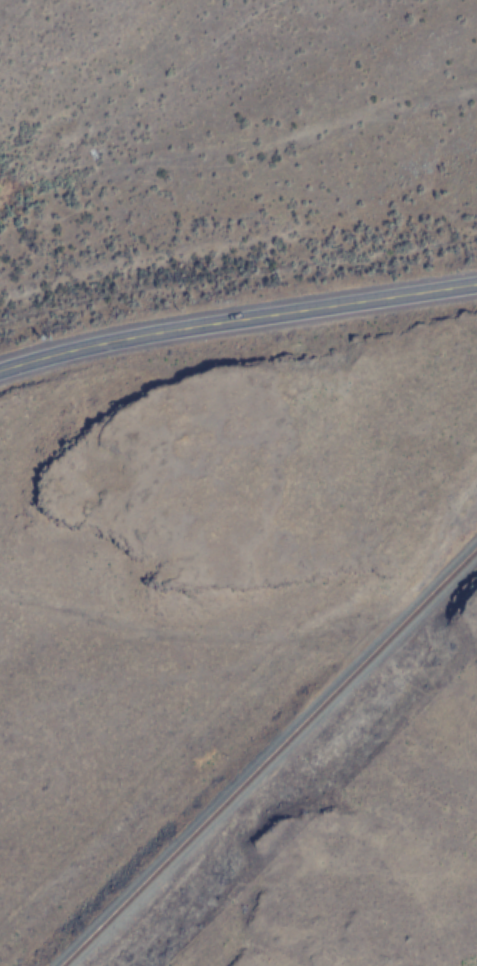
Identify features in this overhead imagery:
road: (237, 320)
railway: (278, 759)

